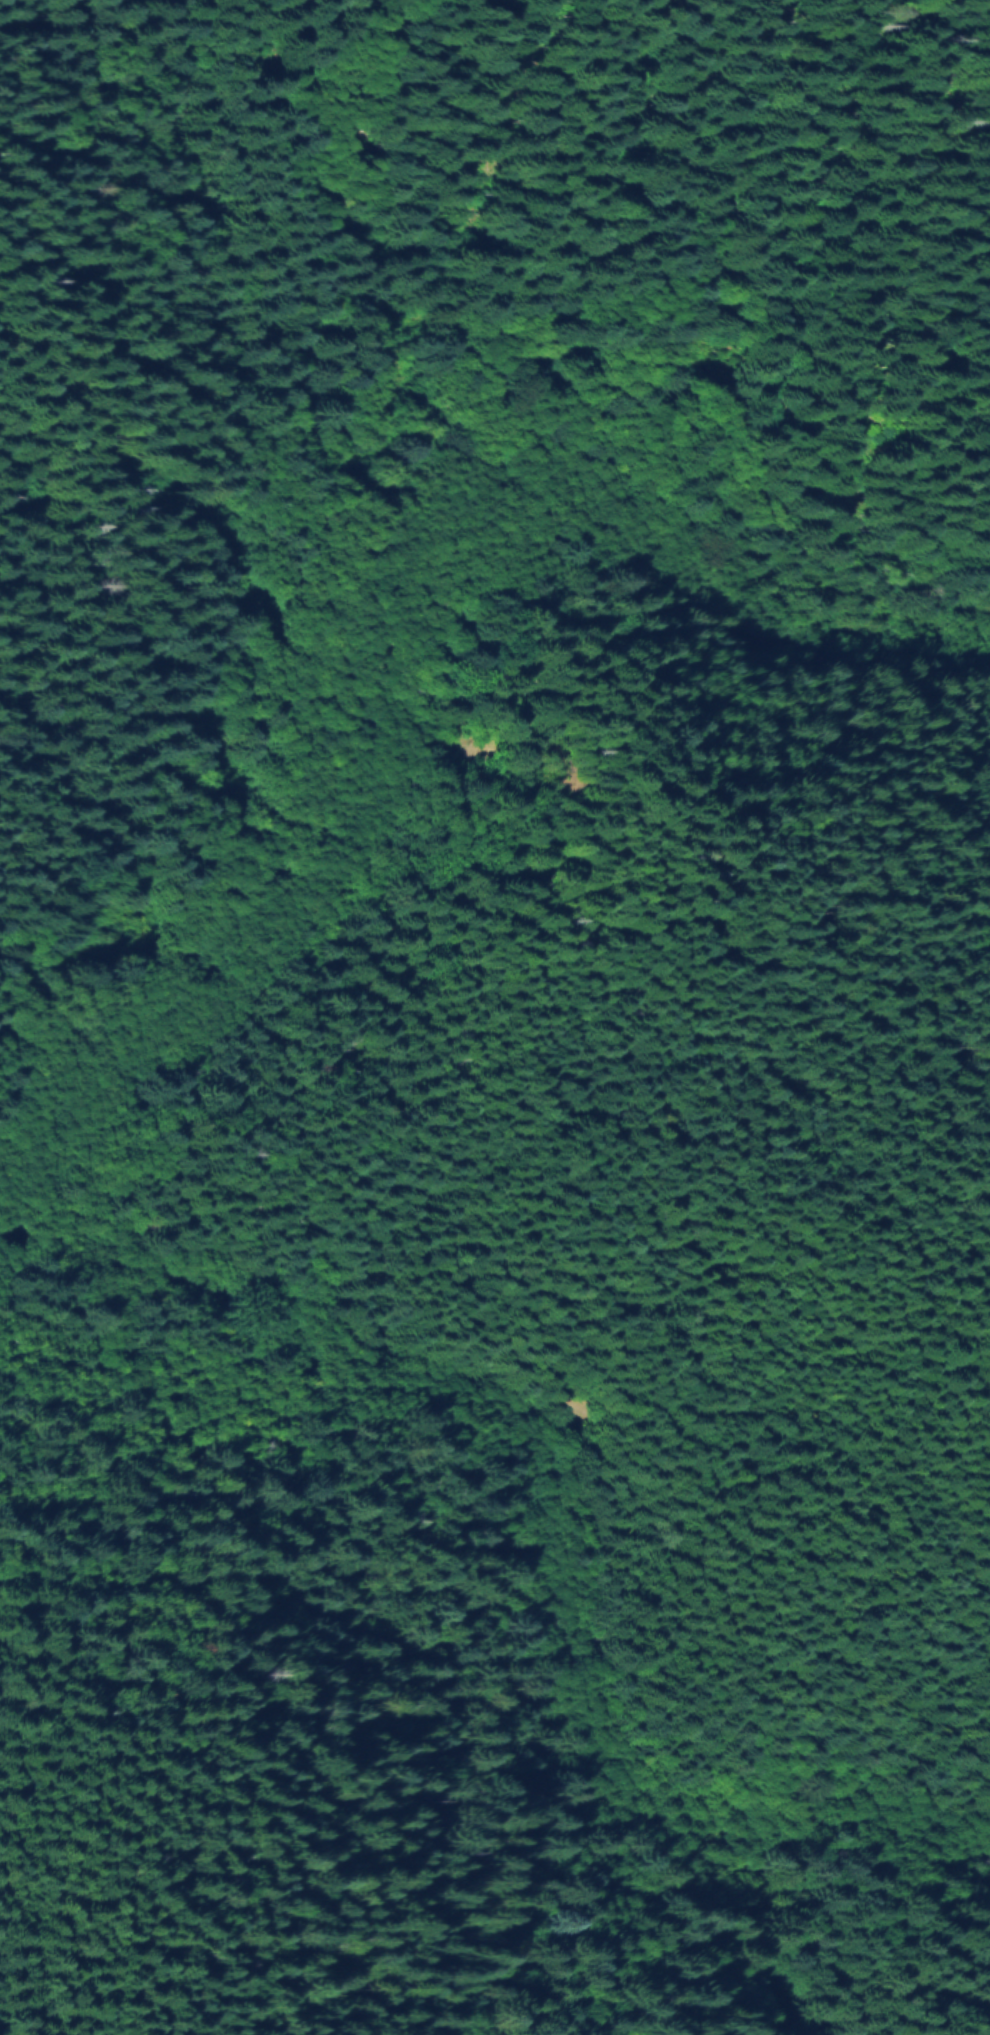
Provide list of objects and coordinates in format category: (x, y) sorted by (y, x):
road: (383, 368)
river: (359, 606)

